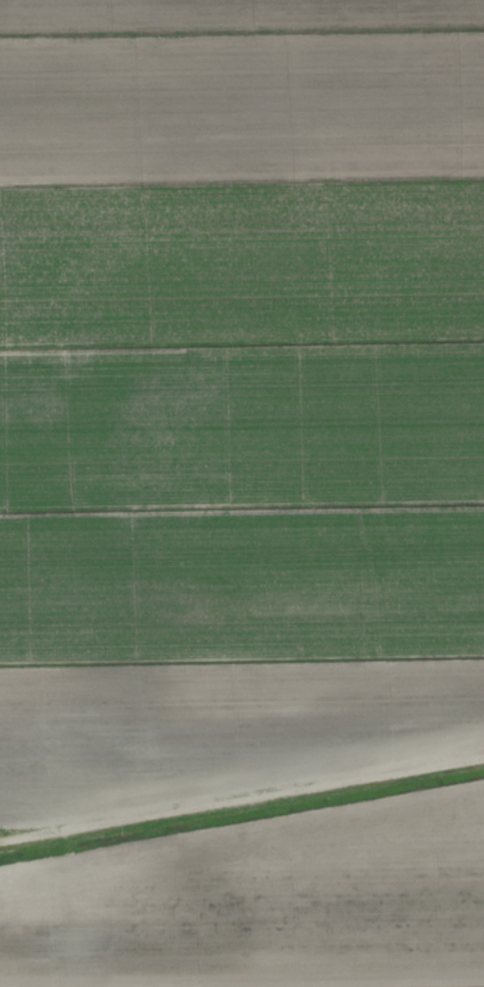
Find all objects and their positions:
crop: (237, 397)

